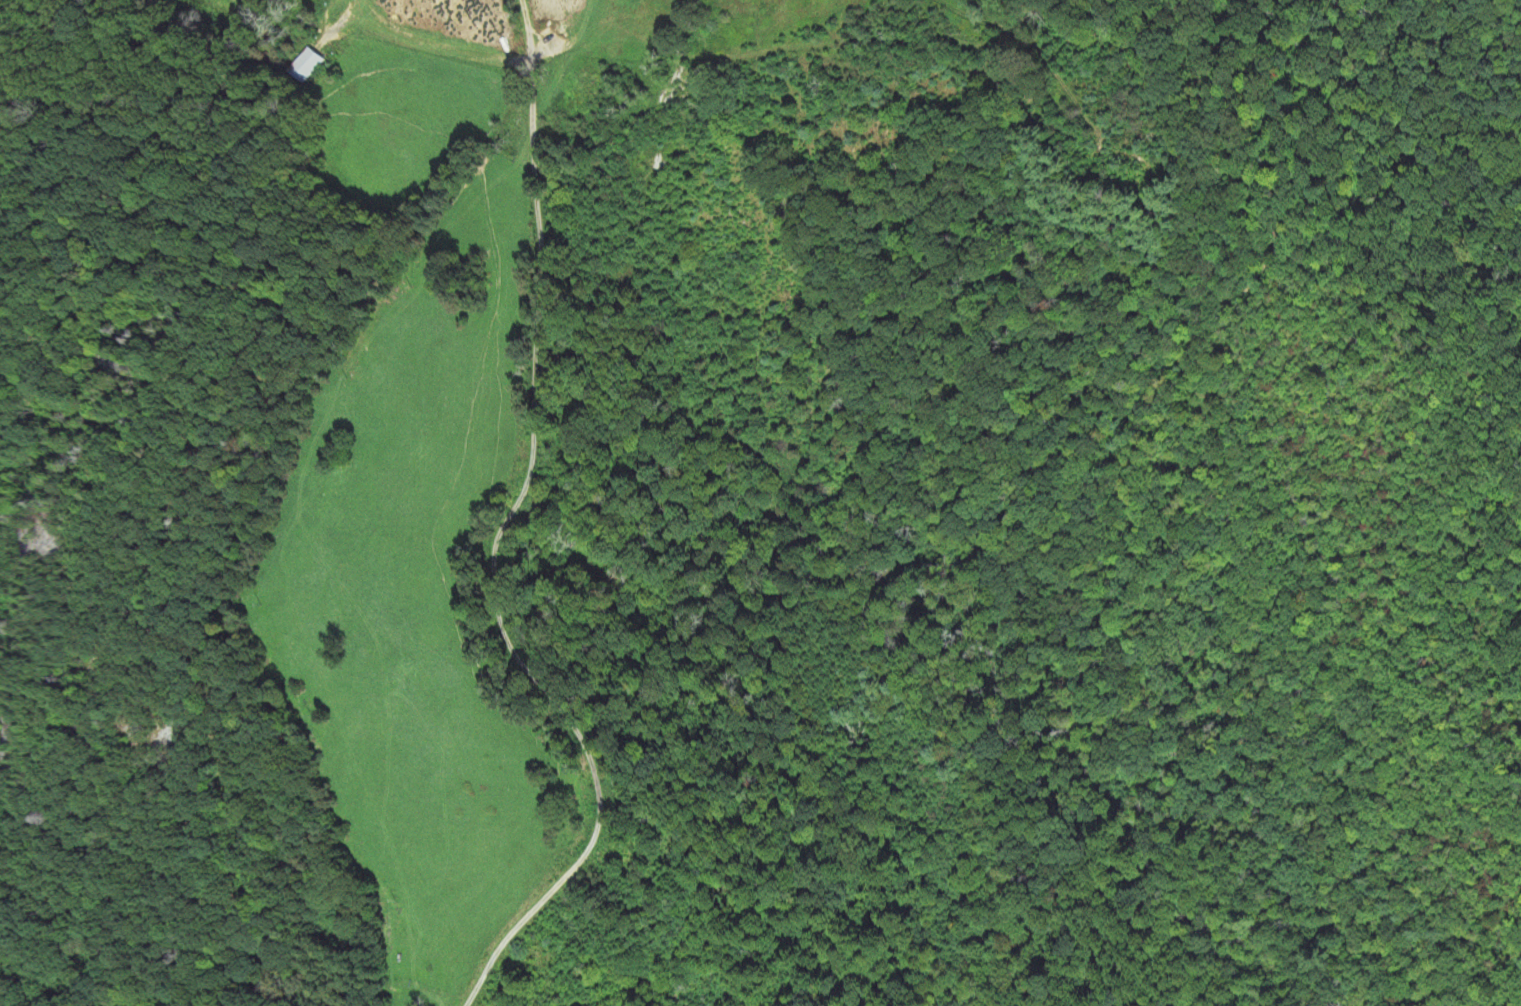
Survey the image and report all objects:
road: (500, 535)

